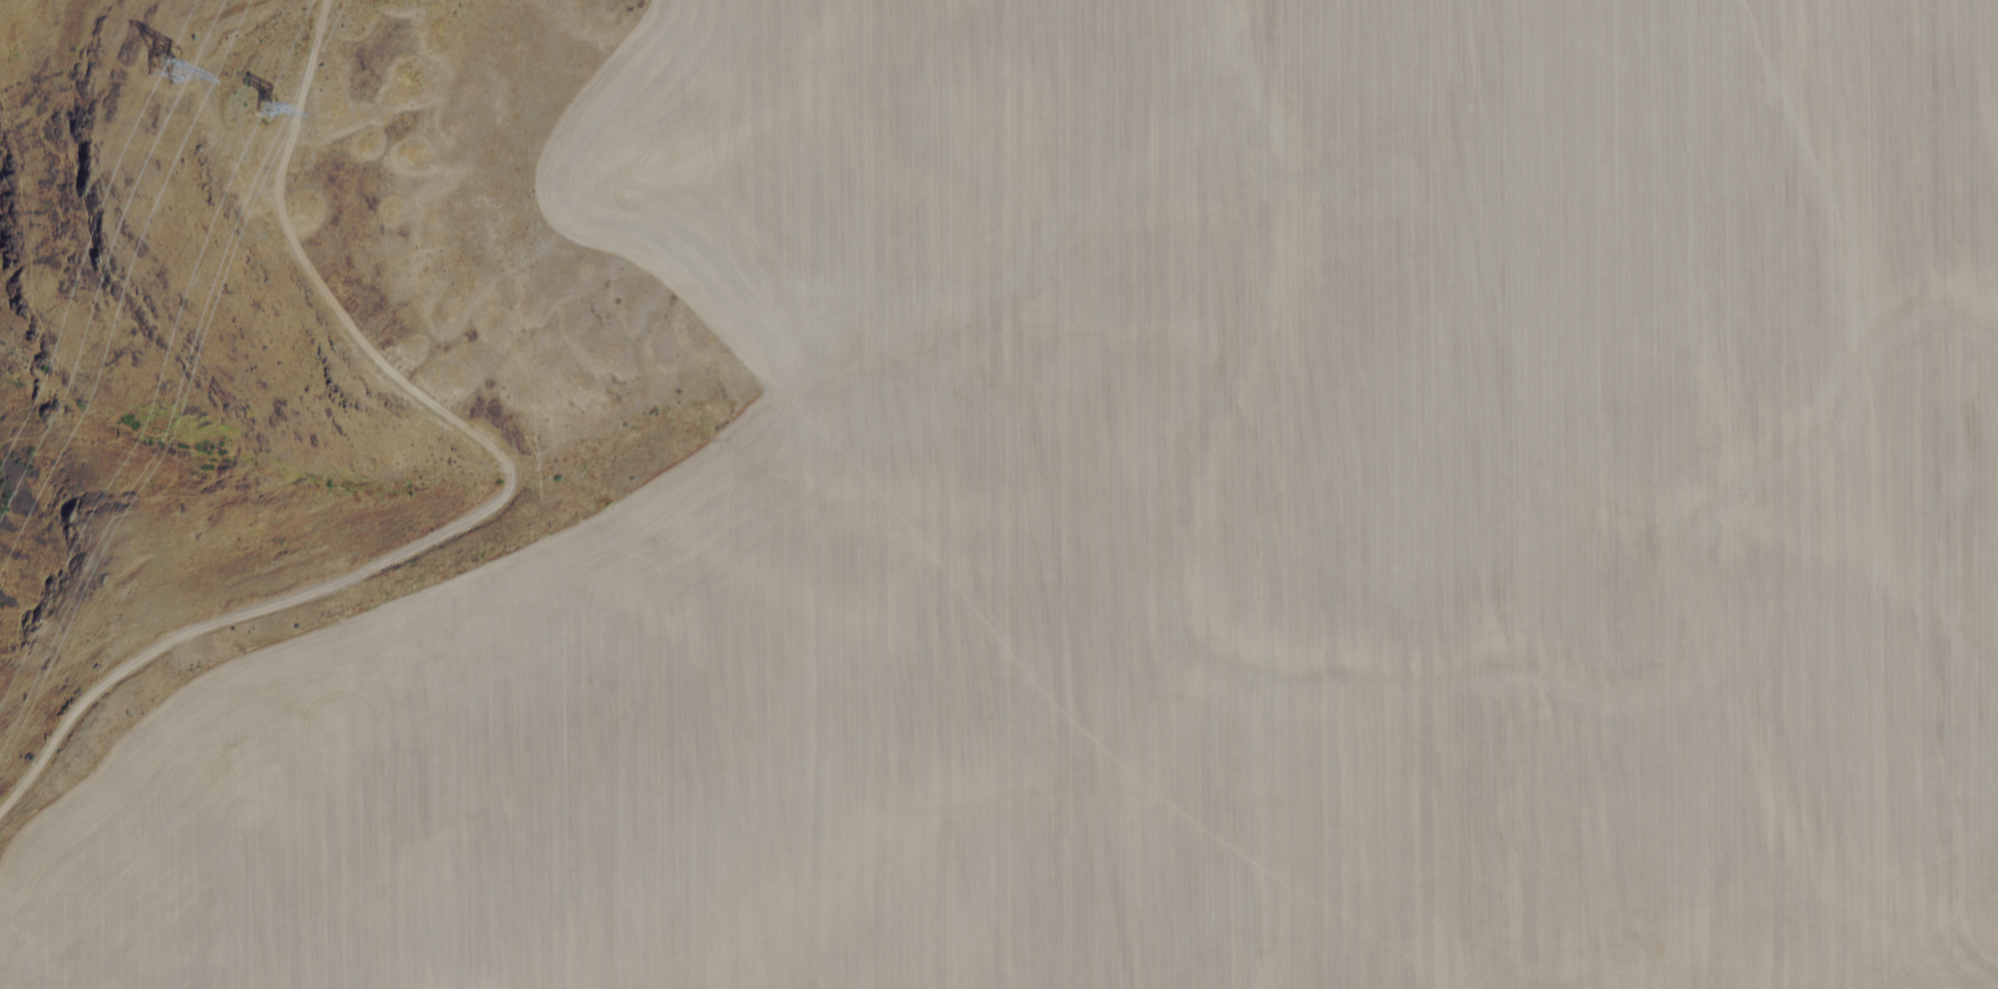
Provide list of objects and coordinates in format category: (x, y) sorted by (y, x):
power tower: (168, 90)
power tower: (266, 126)

